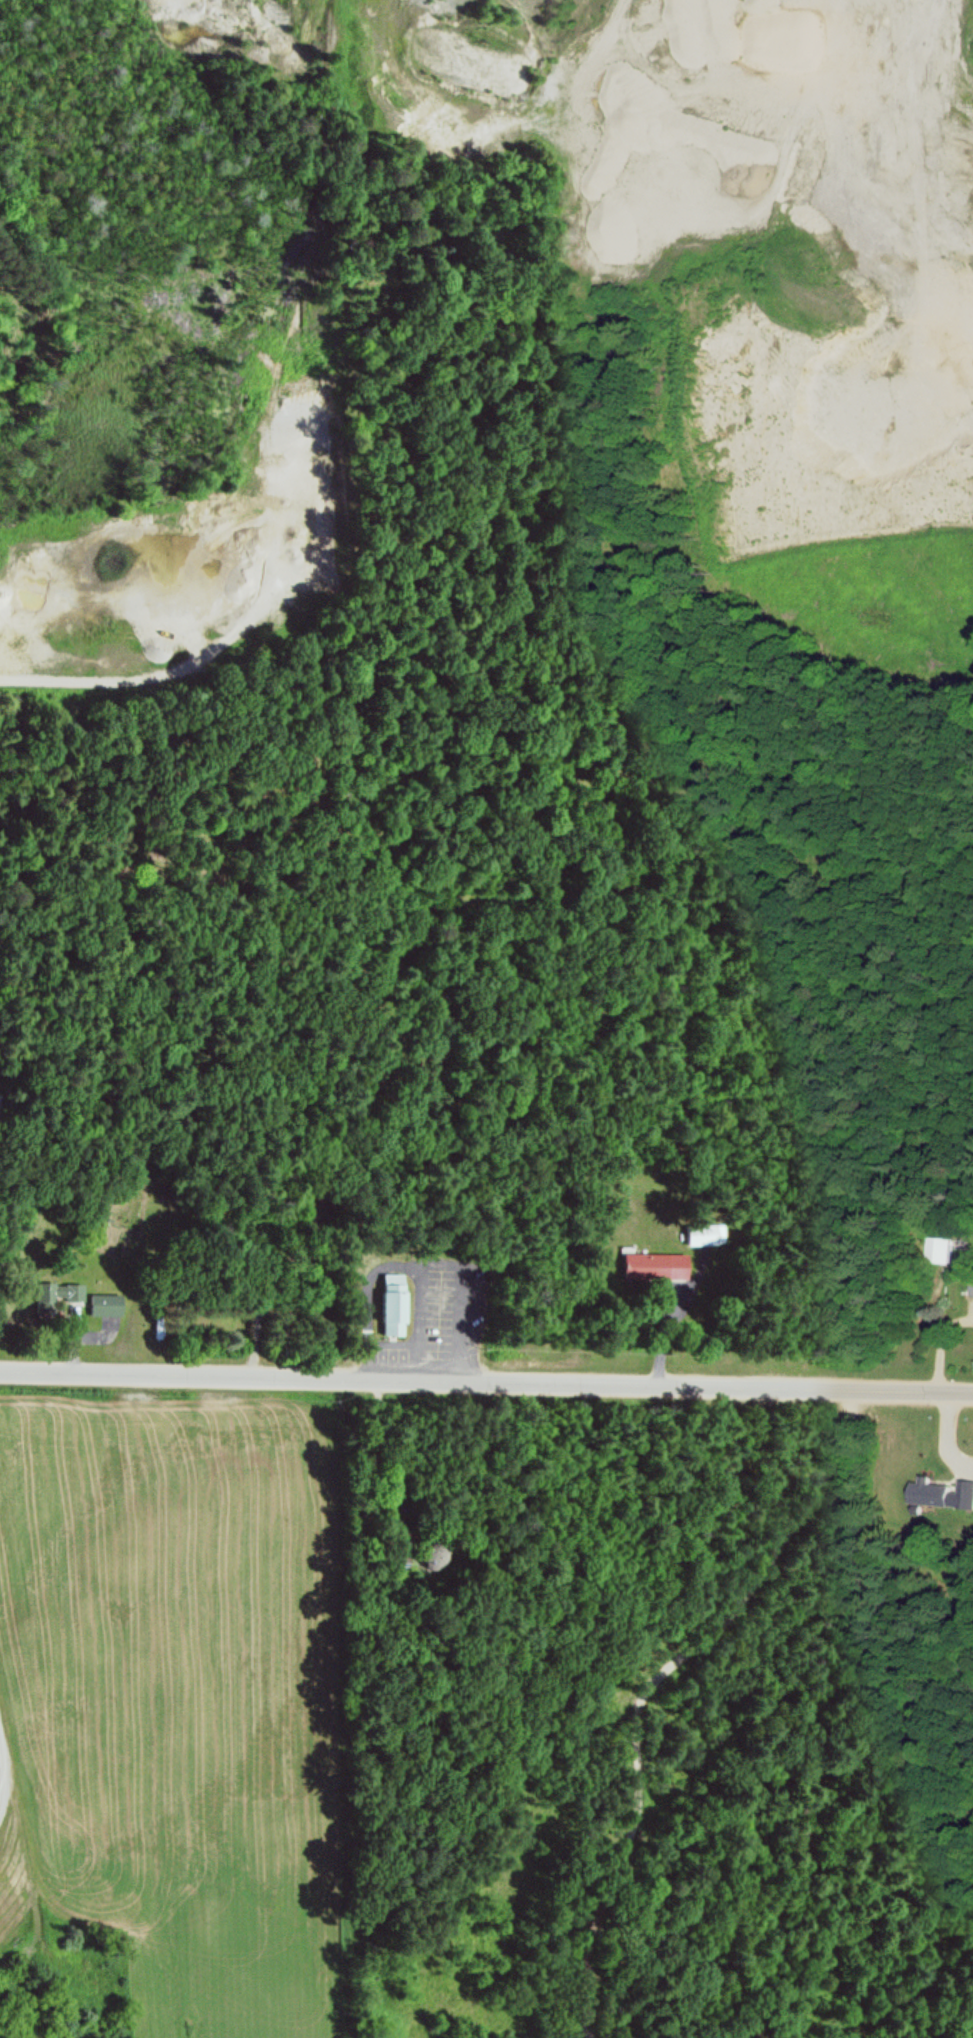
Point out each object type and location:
road: (32, 683)
building: (314, 1196)
building: (703, 1235)
building: (941, 1250)
road: (415, 1267)
building: (658, 1267)
building: (58, 1296)
building: (389, 1303)
building: (106, 1306)
parking lot: (436, 1325)
road: (486, 1385)
building: (923, 1492)
building: (435, 1557)
road: (651, 1689)
road: (5, 1777)

